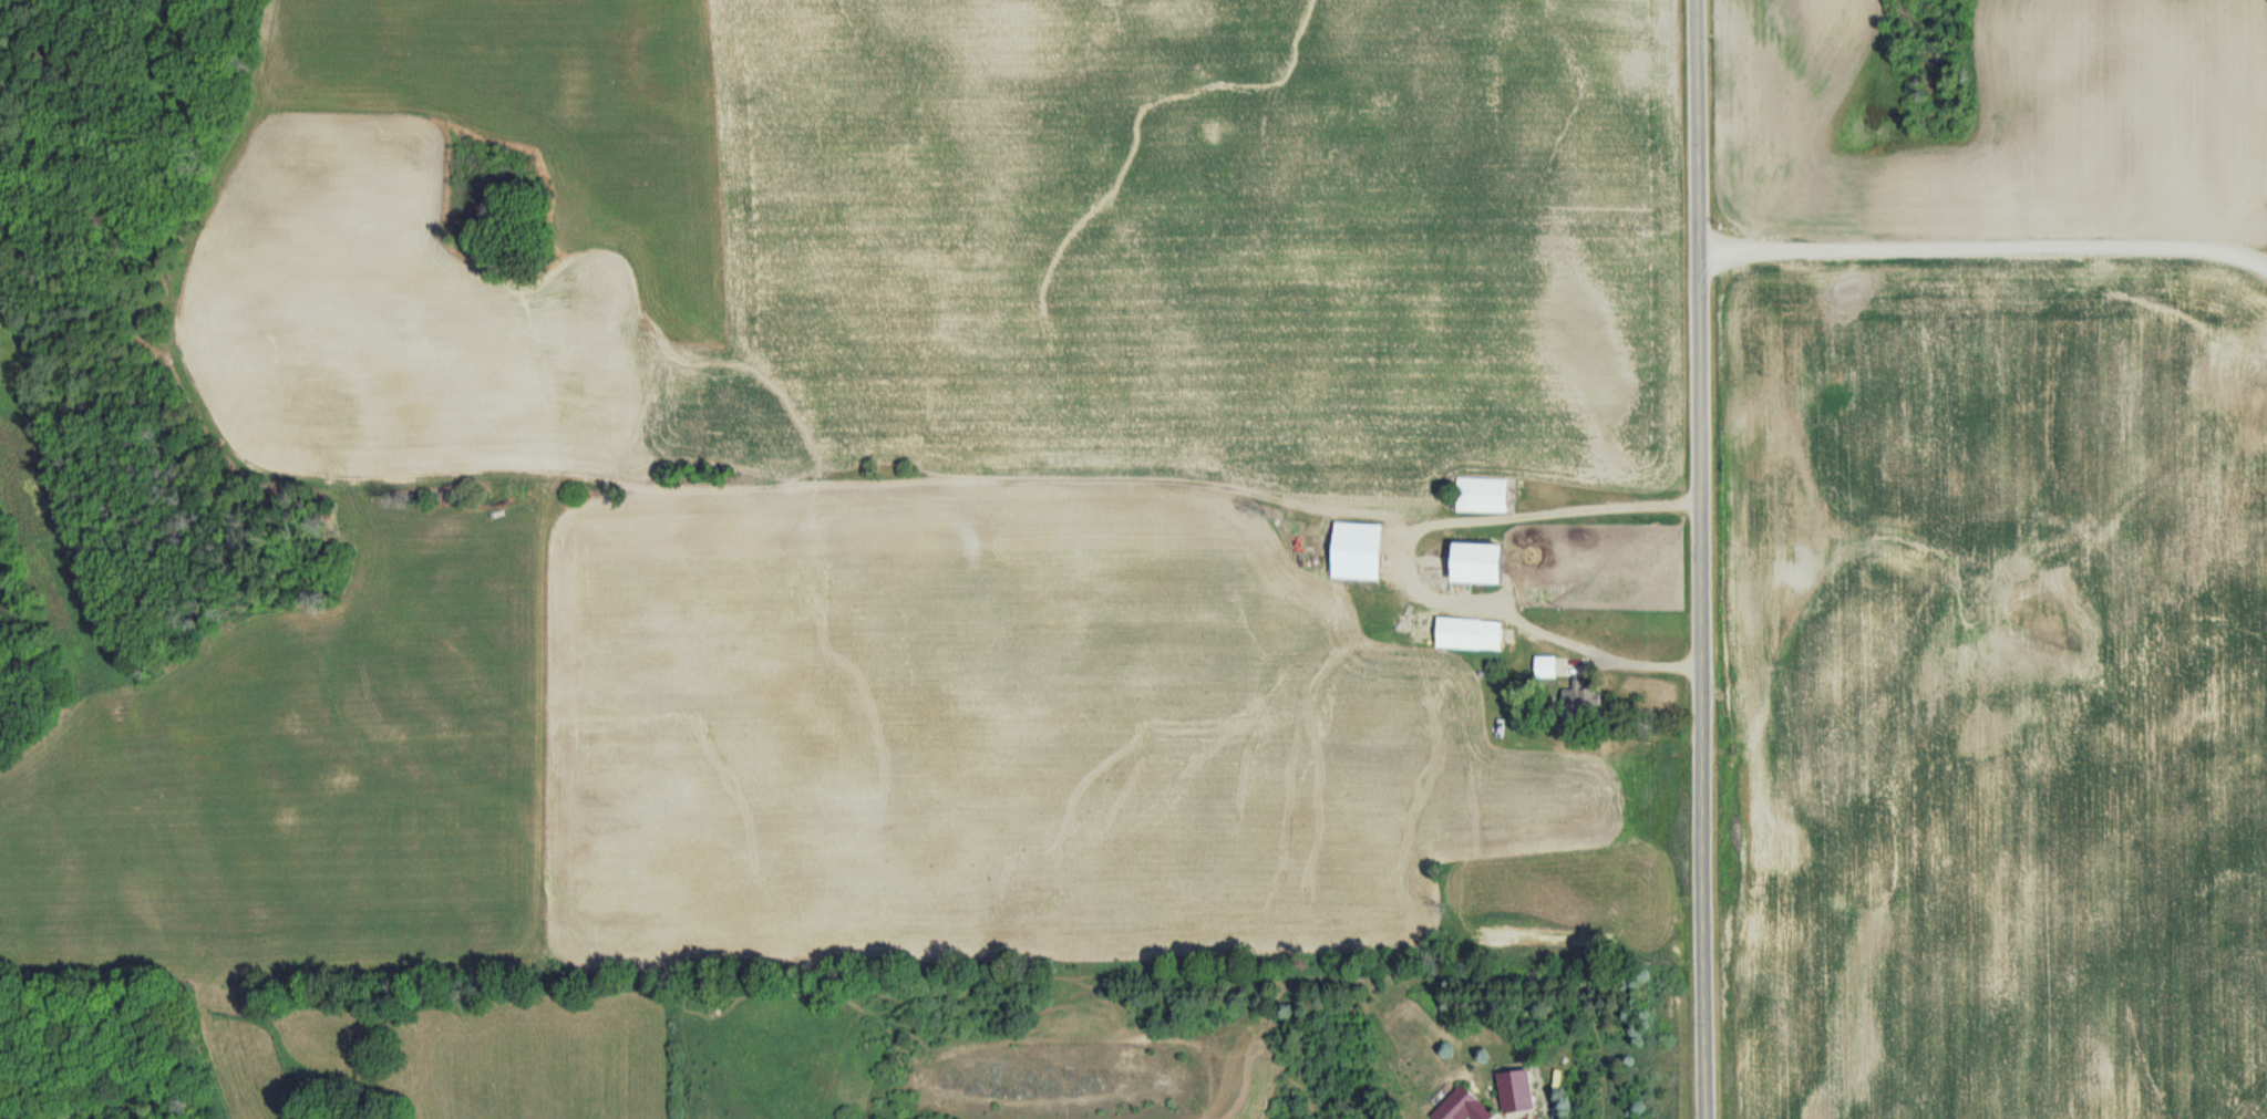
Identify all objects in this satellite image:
building: (1483, 496)
road: (1698, 559)
building: (1482, 564)
building: (1463, 635)
building: (1547, 667)
building: (1584, 704)
building: (1518, 1092)
building: (1464, 1107)

